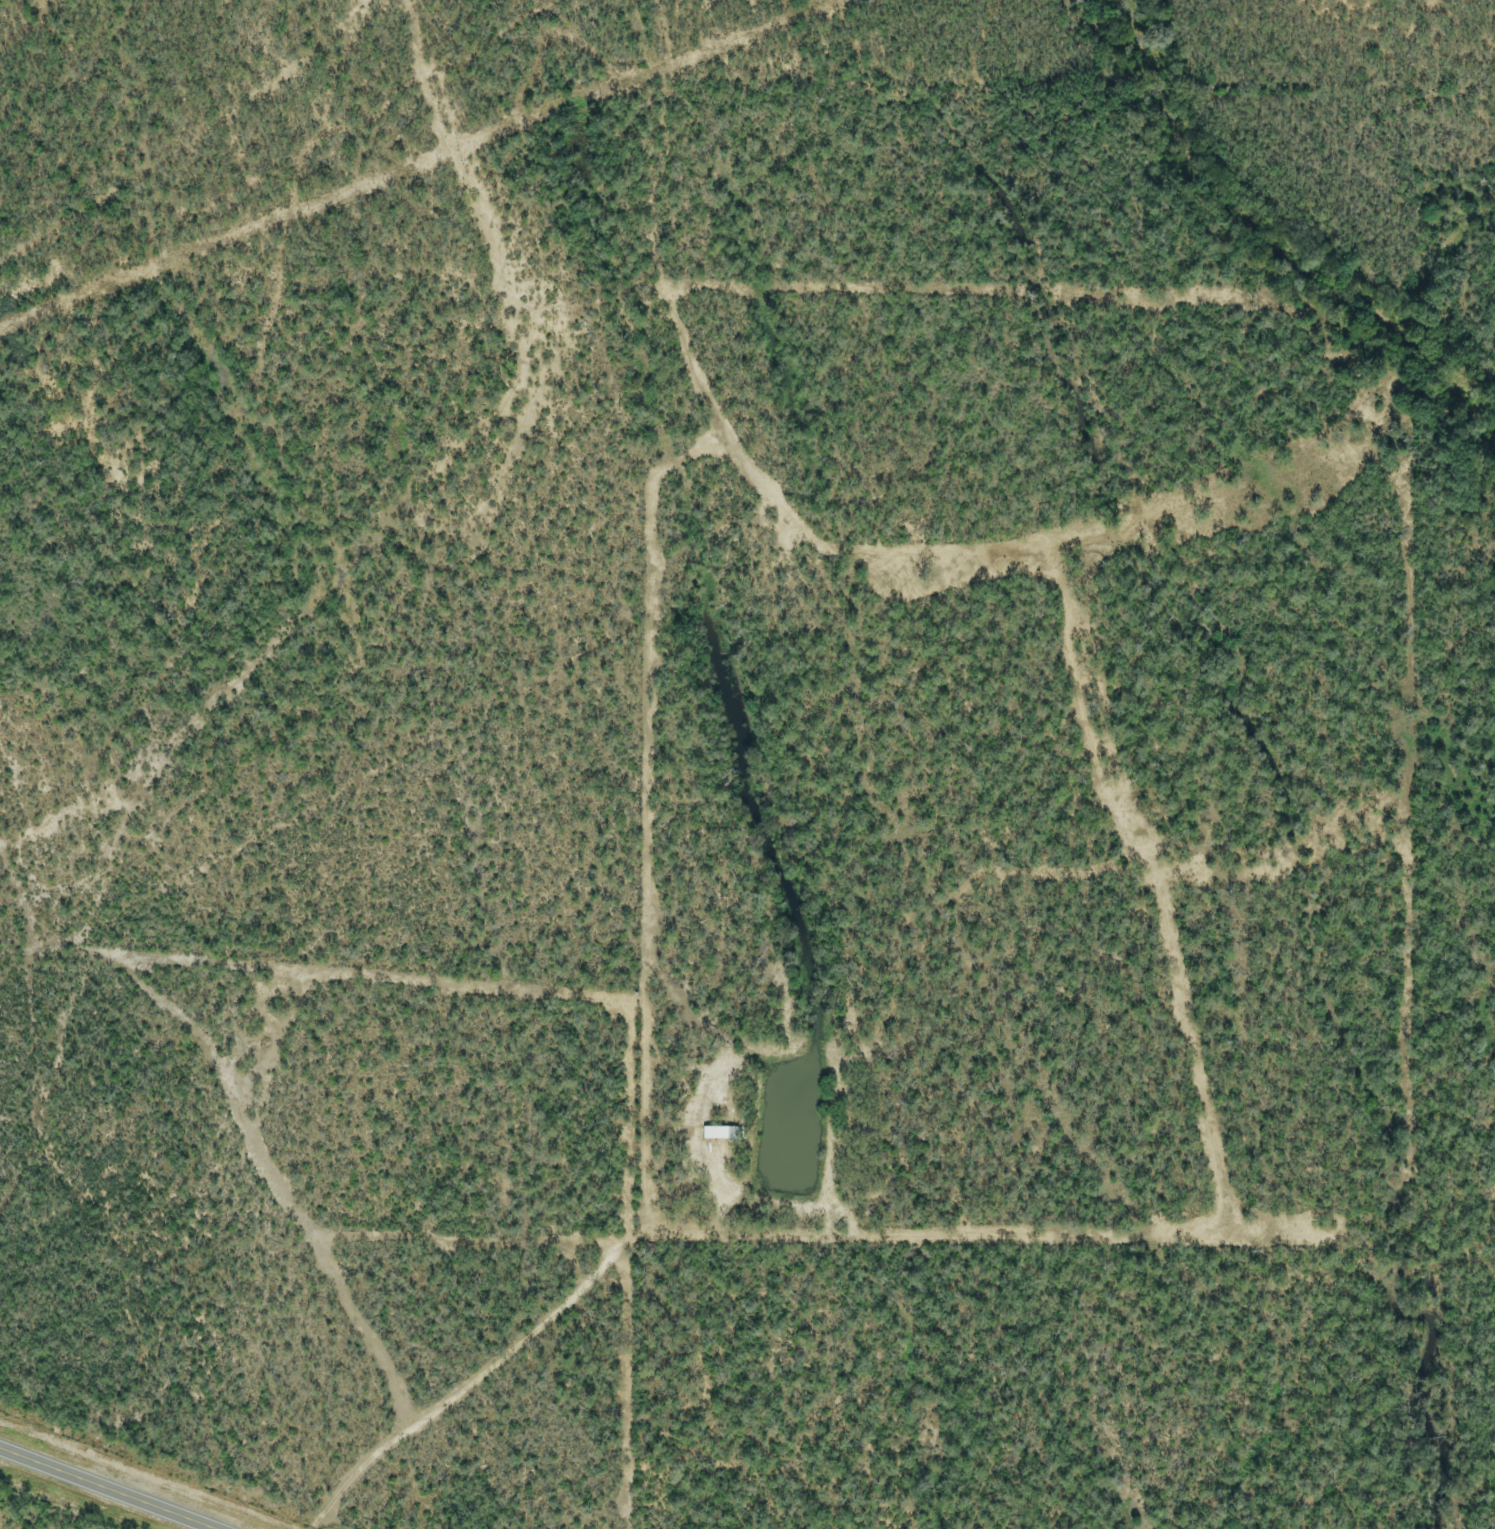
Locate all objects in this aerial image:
road: (103, 1490)

